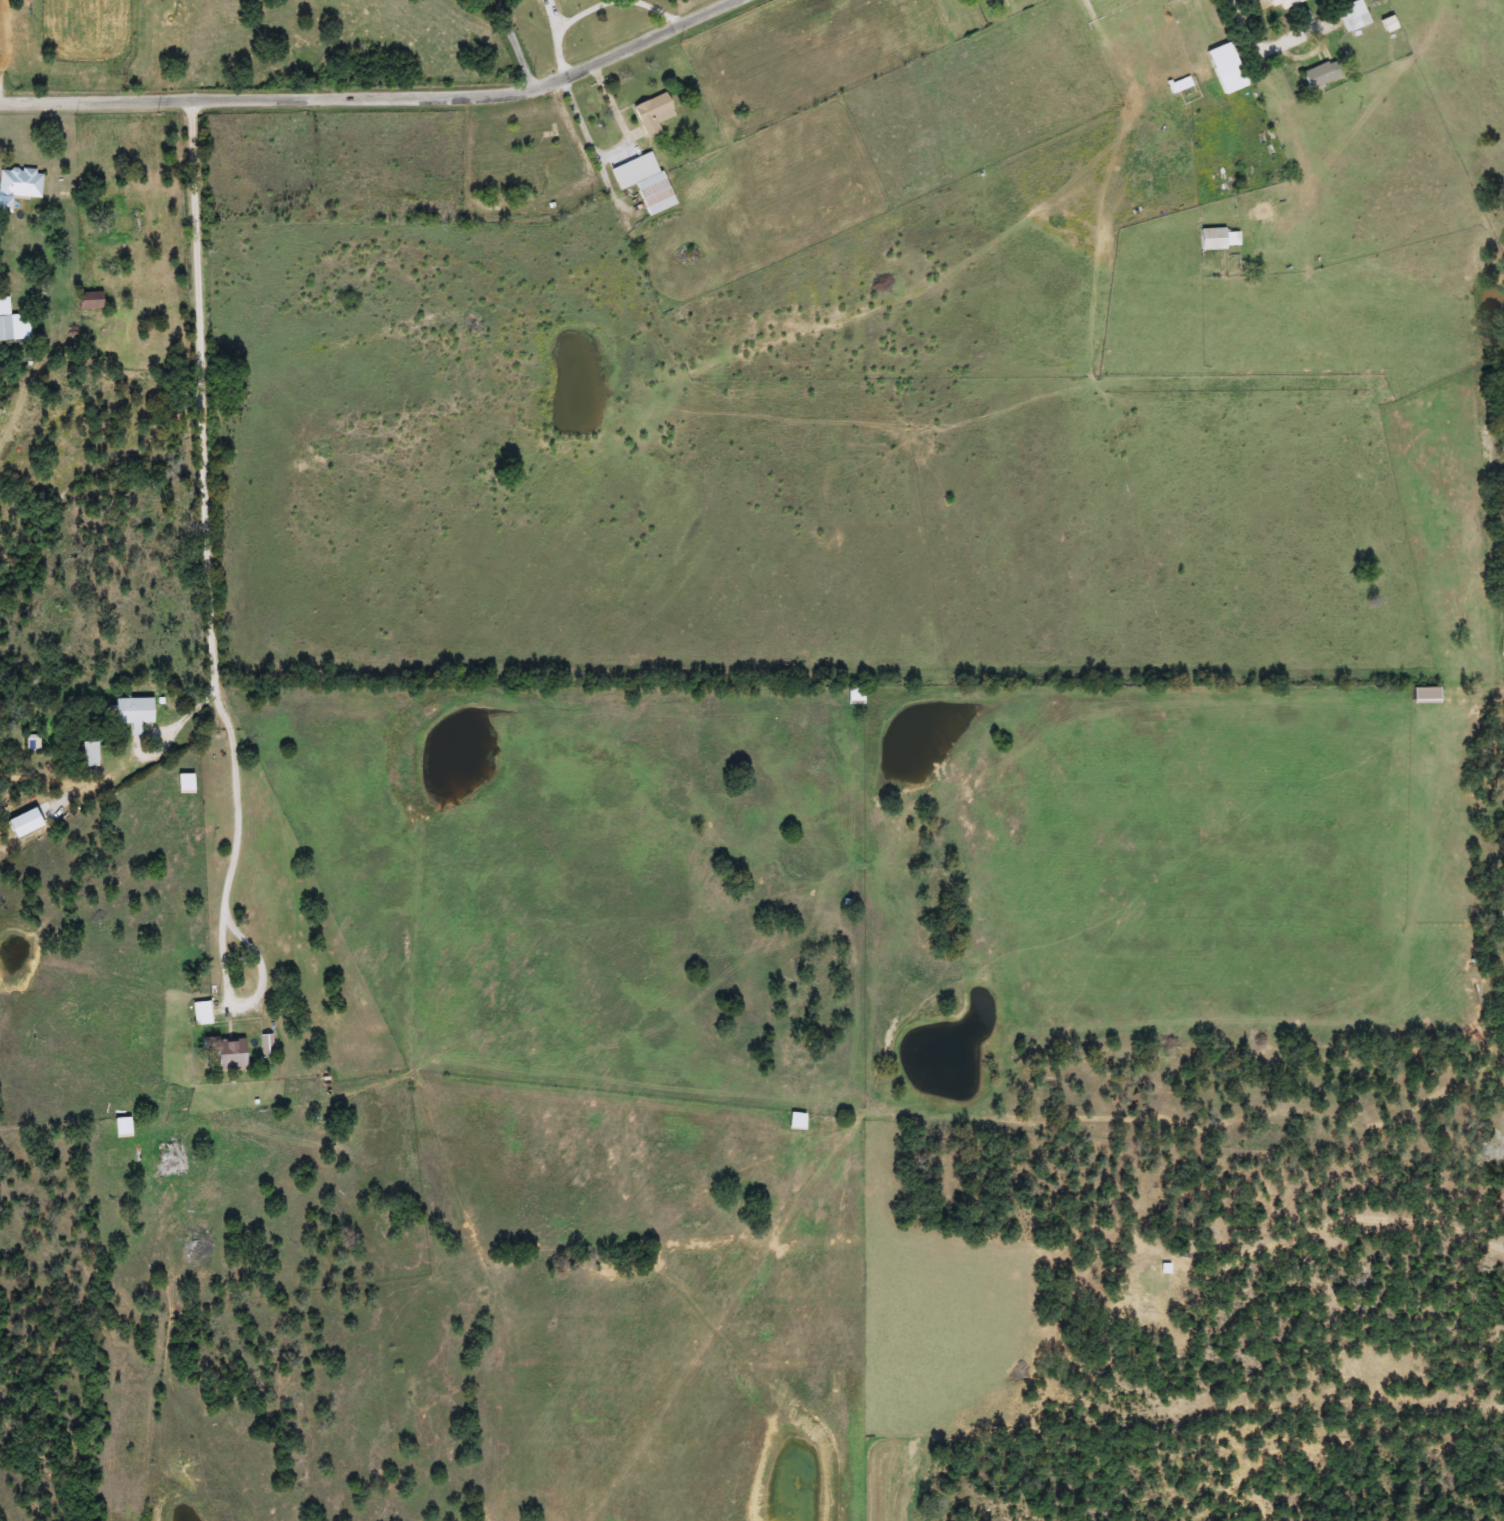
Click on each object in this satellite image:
building: (1283, 3)
building: (1352, 16)
road: (1097, 19)
building: (1303, 19)
road: (516, 42)
road: (1265, 46)
building: (1226, 73)
building: (1319, 75)
building: (1179, 85)
road: (376, 95)
road: (616, 103)
building: (652, 113)
building: (643, 182)
building: (18, 186)
road: (535, 196)
building: (1218, 239)
building: (11, 324)
road: (206, 505)
building: (1423, 695)
building: (132, 712)
building: (89, 754)
road: (156, 757)
building: (183, 783)
road: (228, 982)
building: (225, 1054)
building: (794, 1122)
building: (120, 1127)
building: (170, 1158)
road: (1339, 1222)

